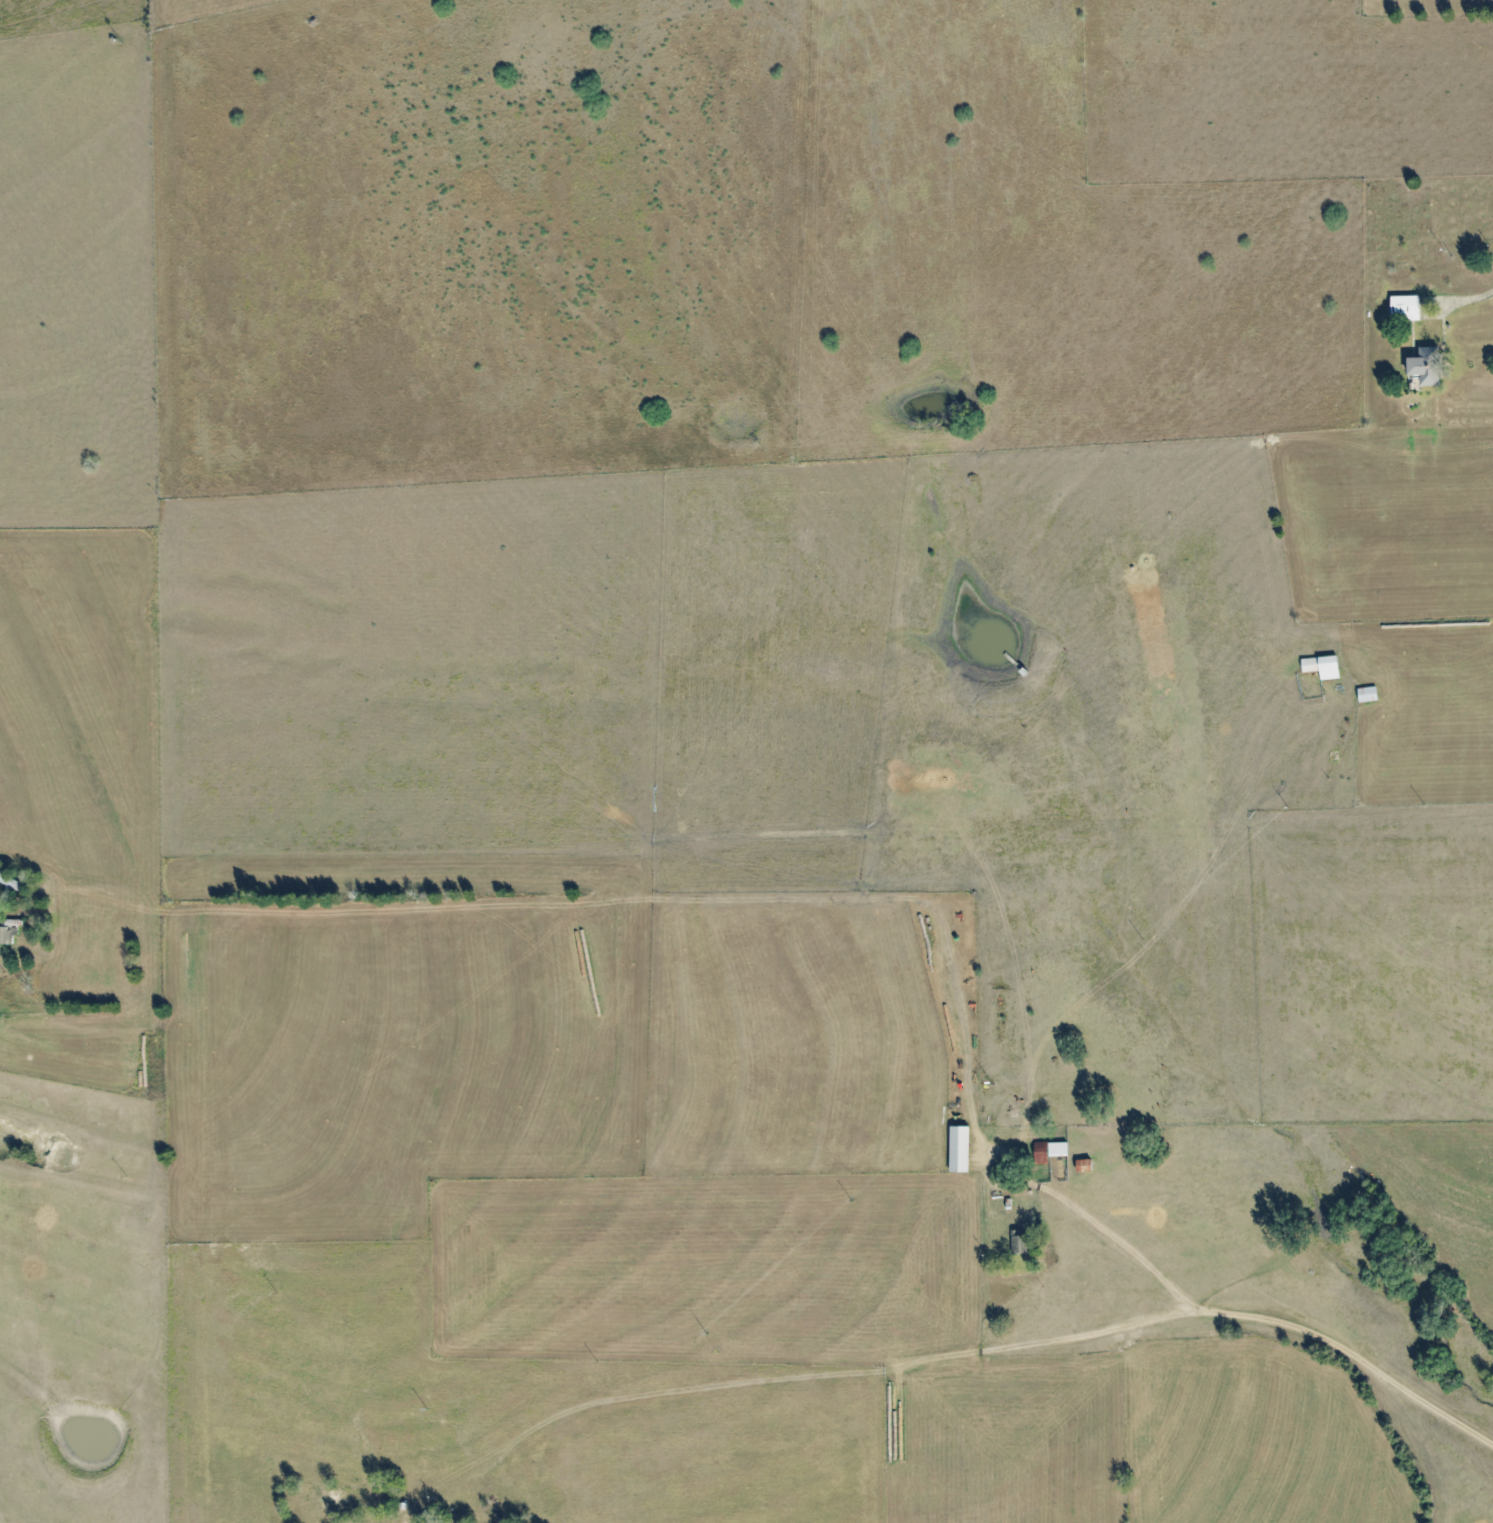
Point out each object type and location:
road: (1461, 300)
building: (1403, 308)
building: (1424, 365)
road: (1427, 665)
building: (1322, 666)
building: (1366, 694)
building: (12, 881)
building: (6, 931)
building: (958, 1149)
building: (1040, 1153)
road: (1261, 1318)
road: (816, 1373)
building: (373, 1491)

